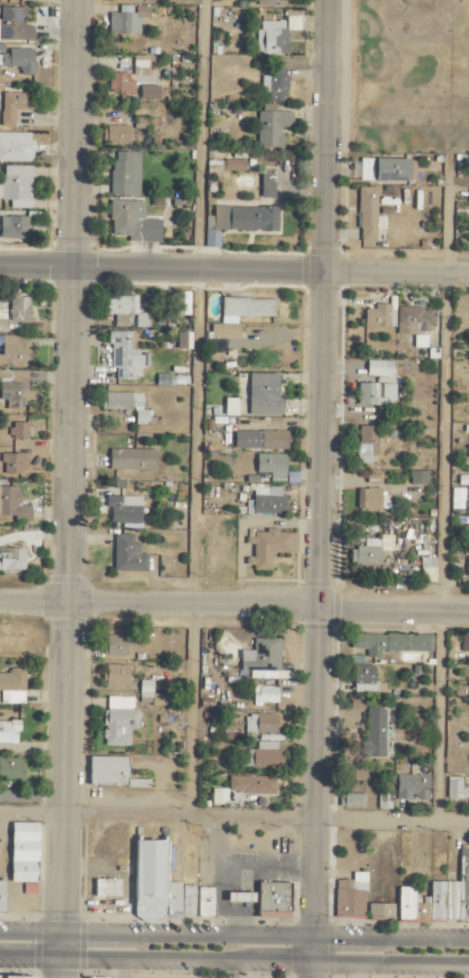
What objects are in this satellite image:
building: (26, 0)
building: (264, 3)
building: (126, 19)
building: (292, 23)
building: (14, 25)
building: (270, 38)
building: (18, 60)
building: (141, 64)
building: (120, 84)
building: (274, 84)
building: (148, 93)
building: (13, 106)
building: (146, 123)
building: (271, 126)
building: (114, 135)
road: (199, 138)
building: (15, 147)
building: (233, 165)
building: (213, 168)
building: (383, 170)
building: (124, 173)
building: (266, 185)
building: (15, 186)
building: (368, 215)
building: (239, 221)
building: (132, 222)
building: (12, 228)
road: (234, 278)
building: (181, 304)
building: (18, 308)
building: (124, 309)
building: (239, 315)
building: (378, 317)
building: (2, 321)
building: (414, 324)
building: (14, 351)
building: (125, 357)
building: (378, 369)
building: (14, 390)
building: (375, 394)
building: (263, 395)
building: (126, 406)
building: (229, 407)
building: (17, 430)
building: (270, 440)
building: (366, 444)
road: (441, 447)
building: (131, 460)
building: (13, 464)
building: (271, 466)
road: (318, 488)
road: (60, 489)
building: (463, 494)
building: (368, 499)
building: (265, 501)
building: (12, 504)
building: (123, 509)
building: (268, 548)
building: (370, 551)
building: (127, 555)
building: (11, 559)
building: (467, 564)
building: (426, 570)
road: (234, 611)
building: (390, 643)
building: (464, 643)
building: (114, 646)
building: (263, 661)
building: (116, 674)
building: (365, 681)
building: (12, 687)
building: (151, 695)
building: (263, 695)
building: (356, 704)
road: (189, 715)
road: (438, 719)
building: (118, 721)
building: (259, 724)
building: (8, 732)
building: (373, 732)
building: (263, 755)
building: (10, 769)
building: (107, 771)
building: (137, 784)
building: (251, 785)
building: (411, 787)
building: (455, 790)
building: (218, 797)
building: (351, 801)
building: (384, 801)
road: (234, 820)
road: (238, 839)
building: (23, 856)
road: (267, 868)
road: (219, 880)
building: (159, 882)
building: (106, 888)
building: (349, 896)
building: (1, 897)
building: (439, 897)
building: (240, 898)
building: (273, 900)
building: (205, 902)
building: (381, 911)
road: (234, 936)
road: (234, 960)
road: (121, 969)
building: (16, 976)
building: (95, 977)

